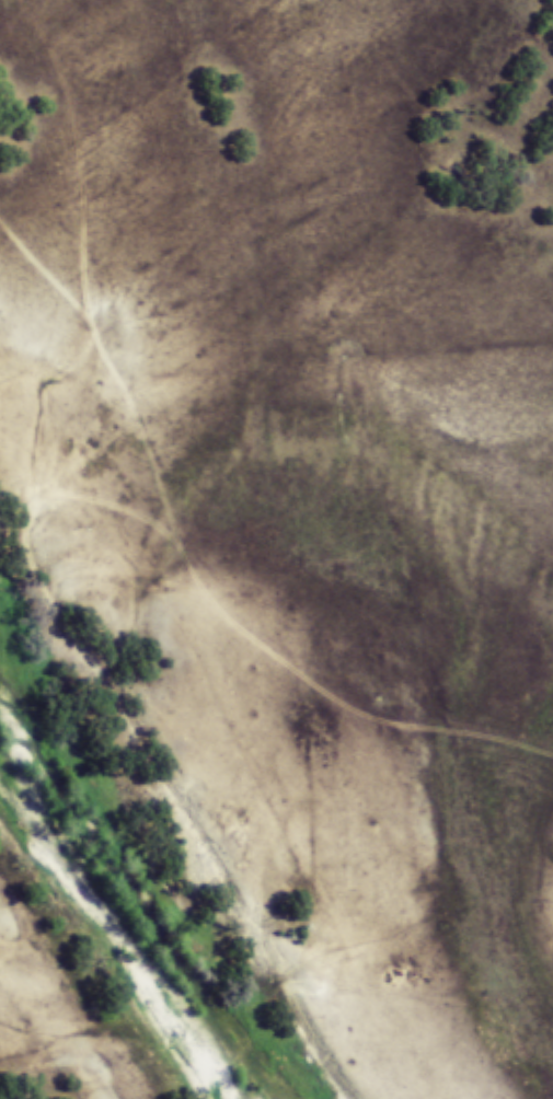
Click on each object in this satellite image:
river: (128, 927)

